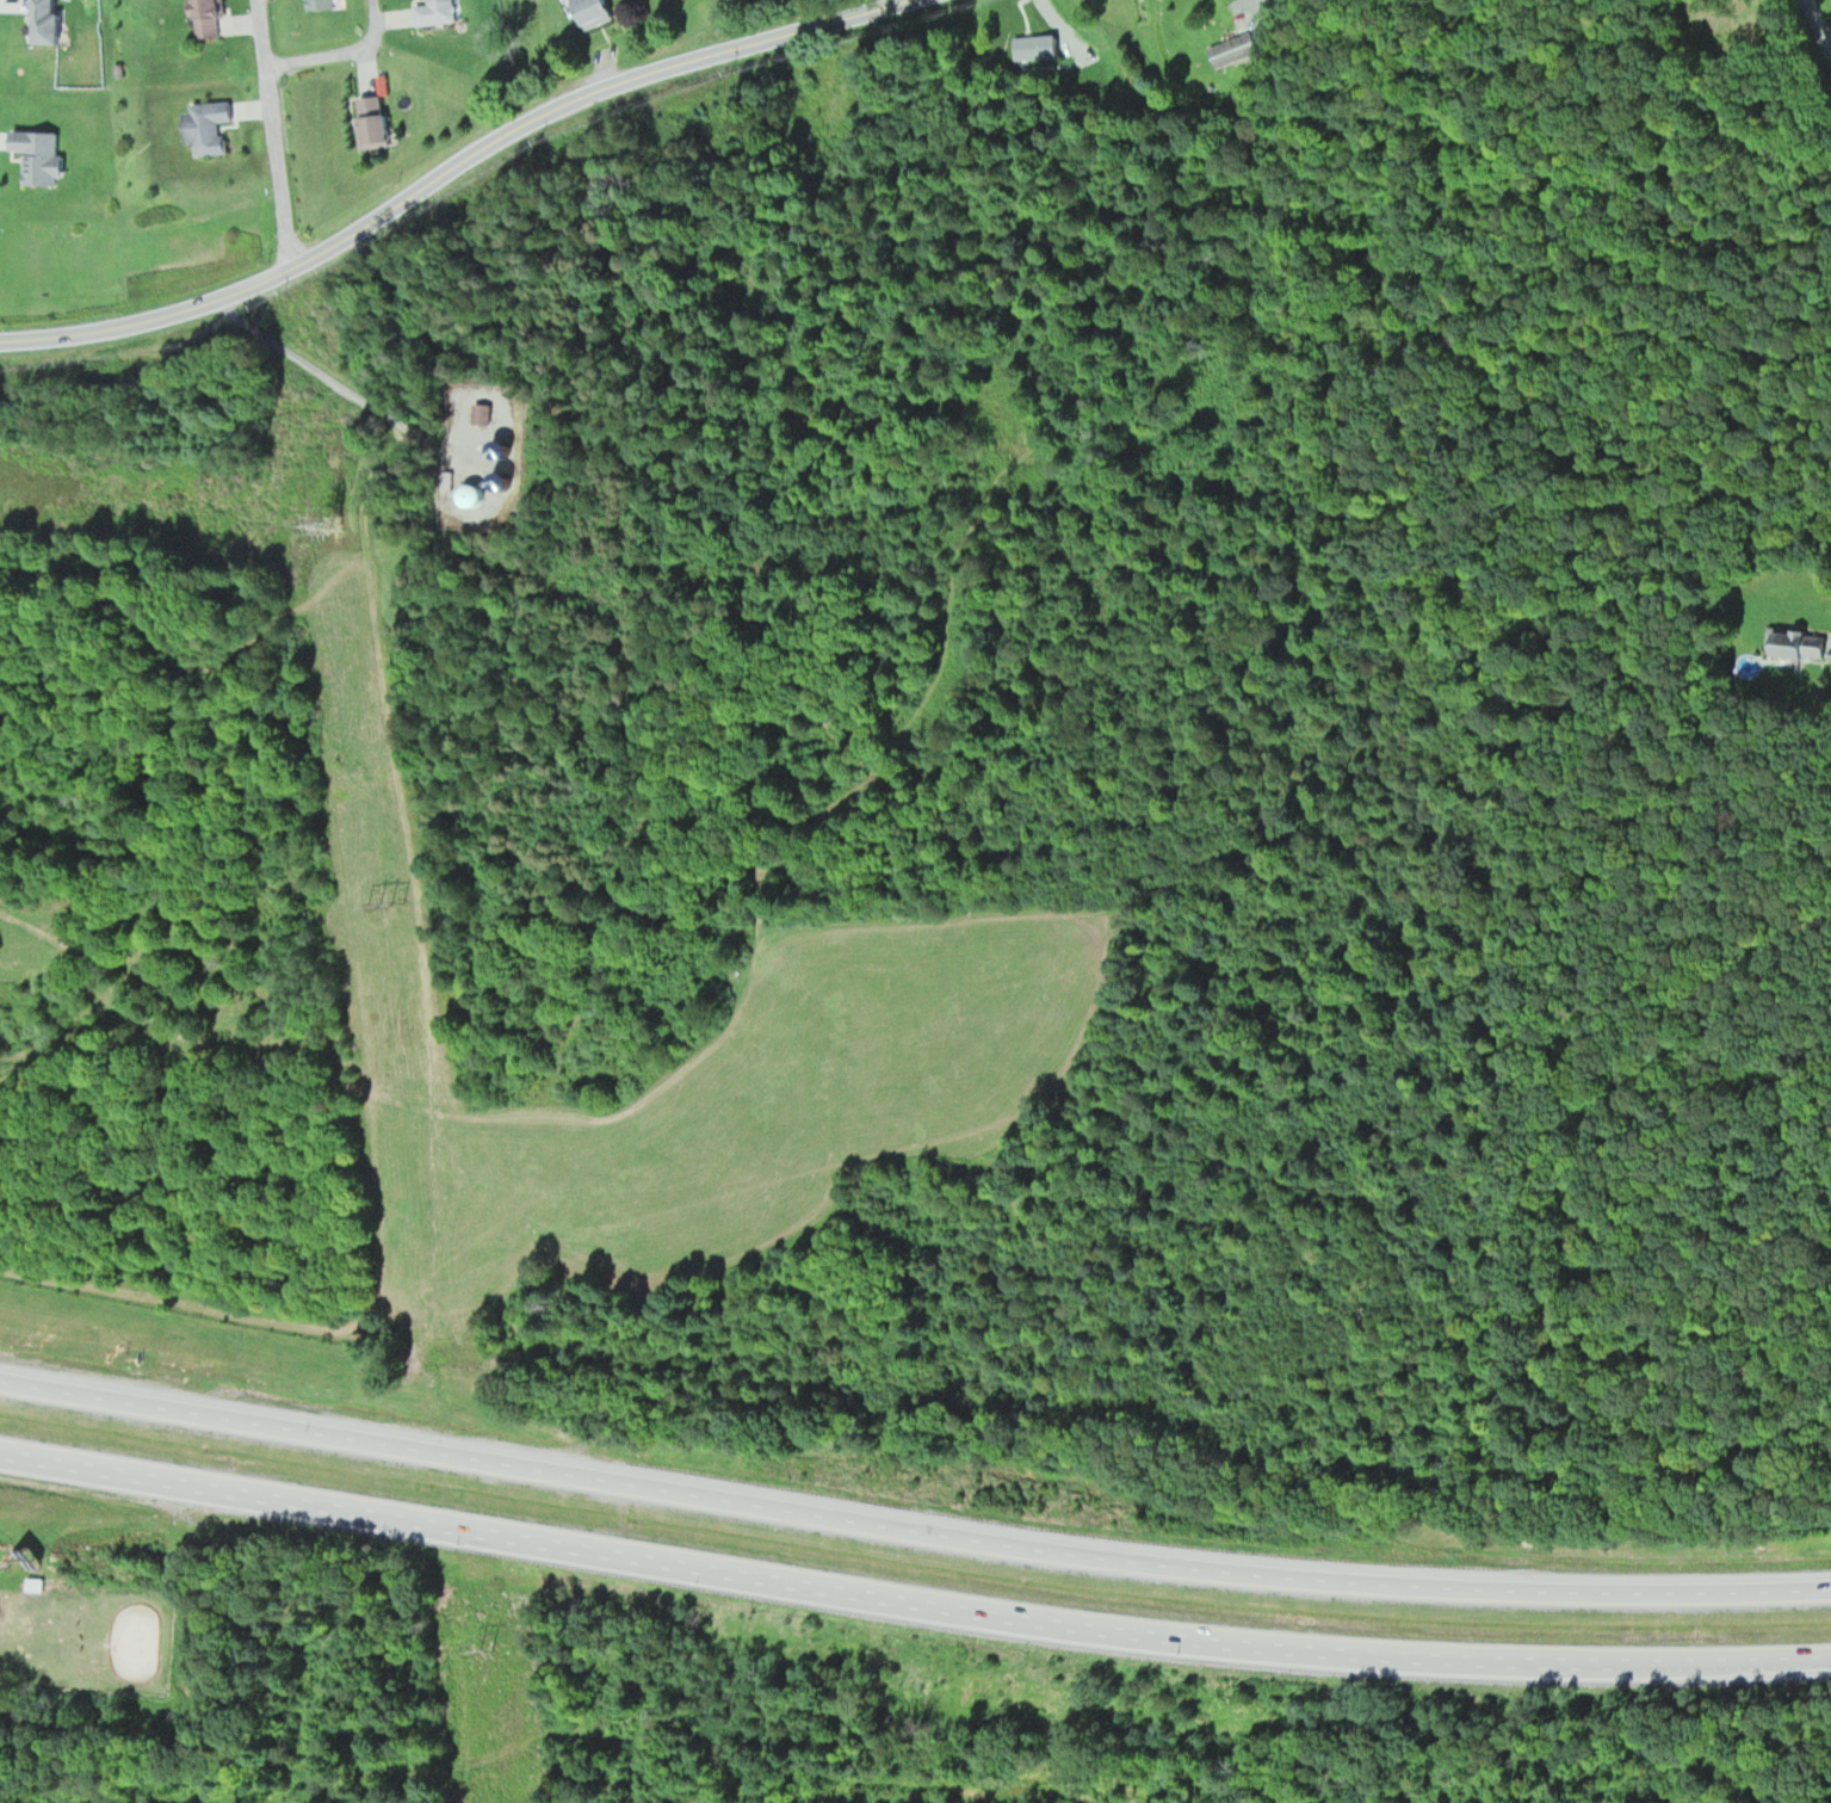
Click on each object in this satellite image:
building: (321, 4)
building: (434, 11)
building: (594, 12)
building: (209, 17)
building: (47, 20)
building: (1034, 47)
building: (1232, 49)
road: (335, 54)
building: (373, 122)
building: (208, 126)
road: (268, 135)
building: (41, 156)
road: (449, 171)
building: (481, 413)
building: (482, 455)
building: (471, 496)
power tower: (339, 532)
building: (1802, 644)
road: (910, 1539)
road: (910, 1612)

